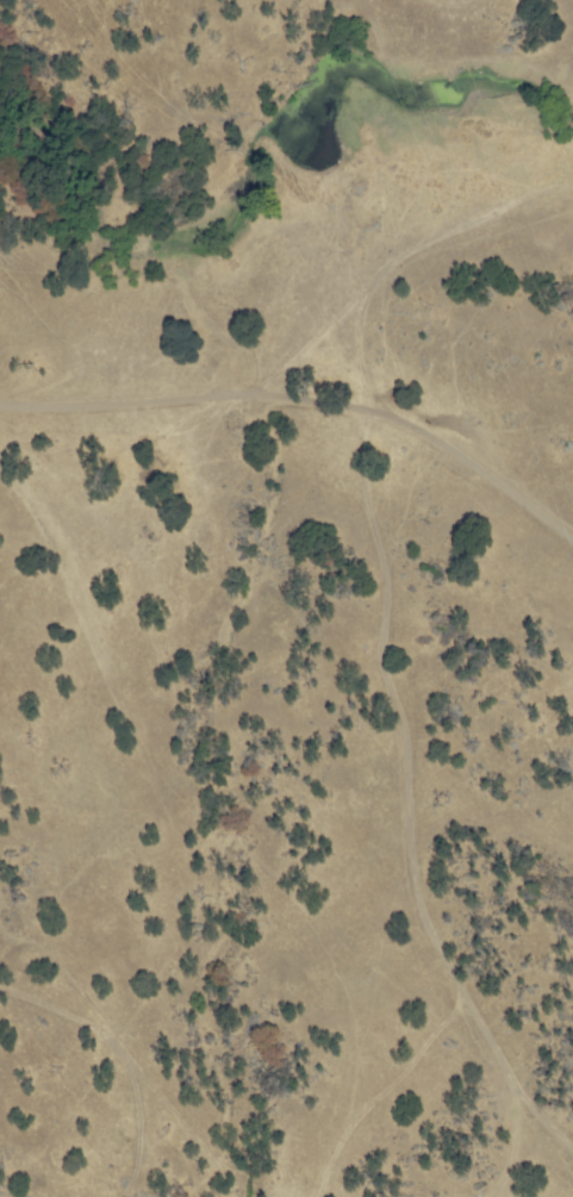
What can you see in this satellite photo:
road: (444, 62)
road: (305, 406)
road: (388, 590)

